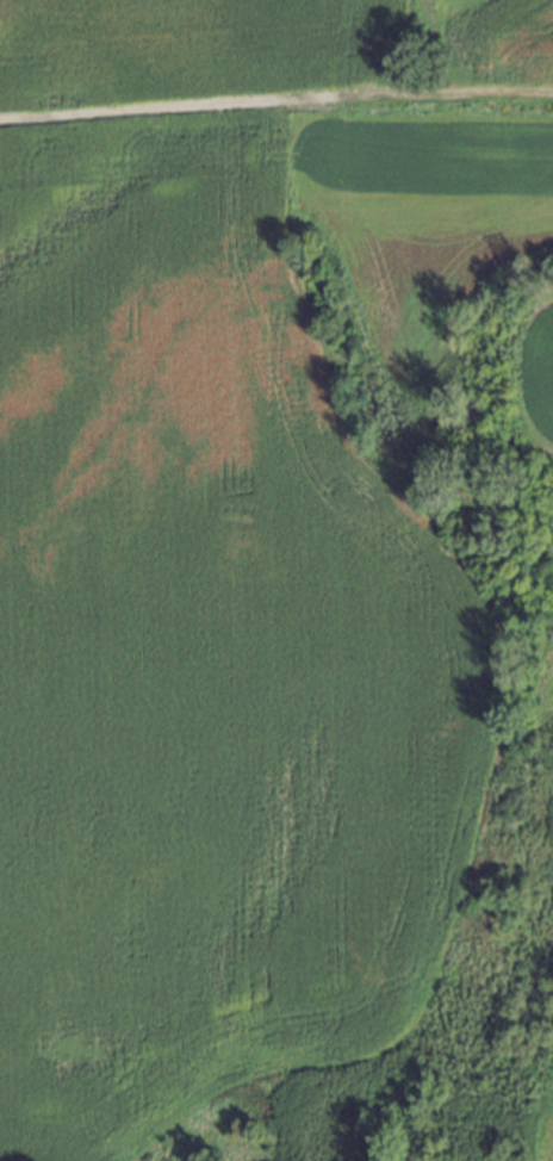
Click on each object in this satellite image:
road: (275, 98)

